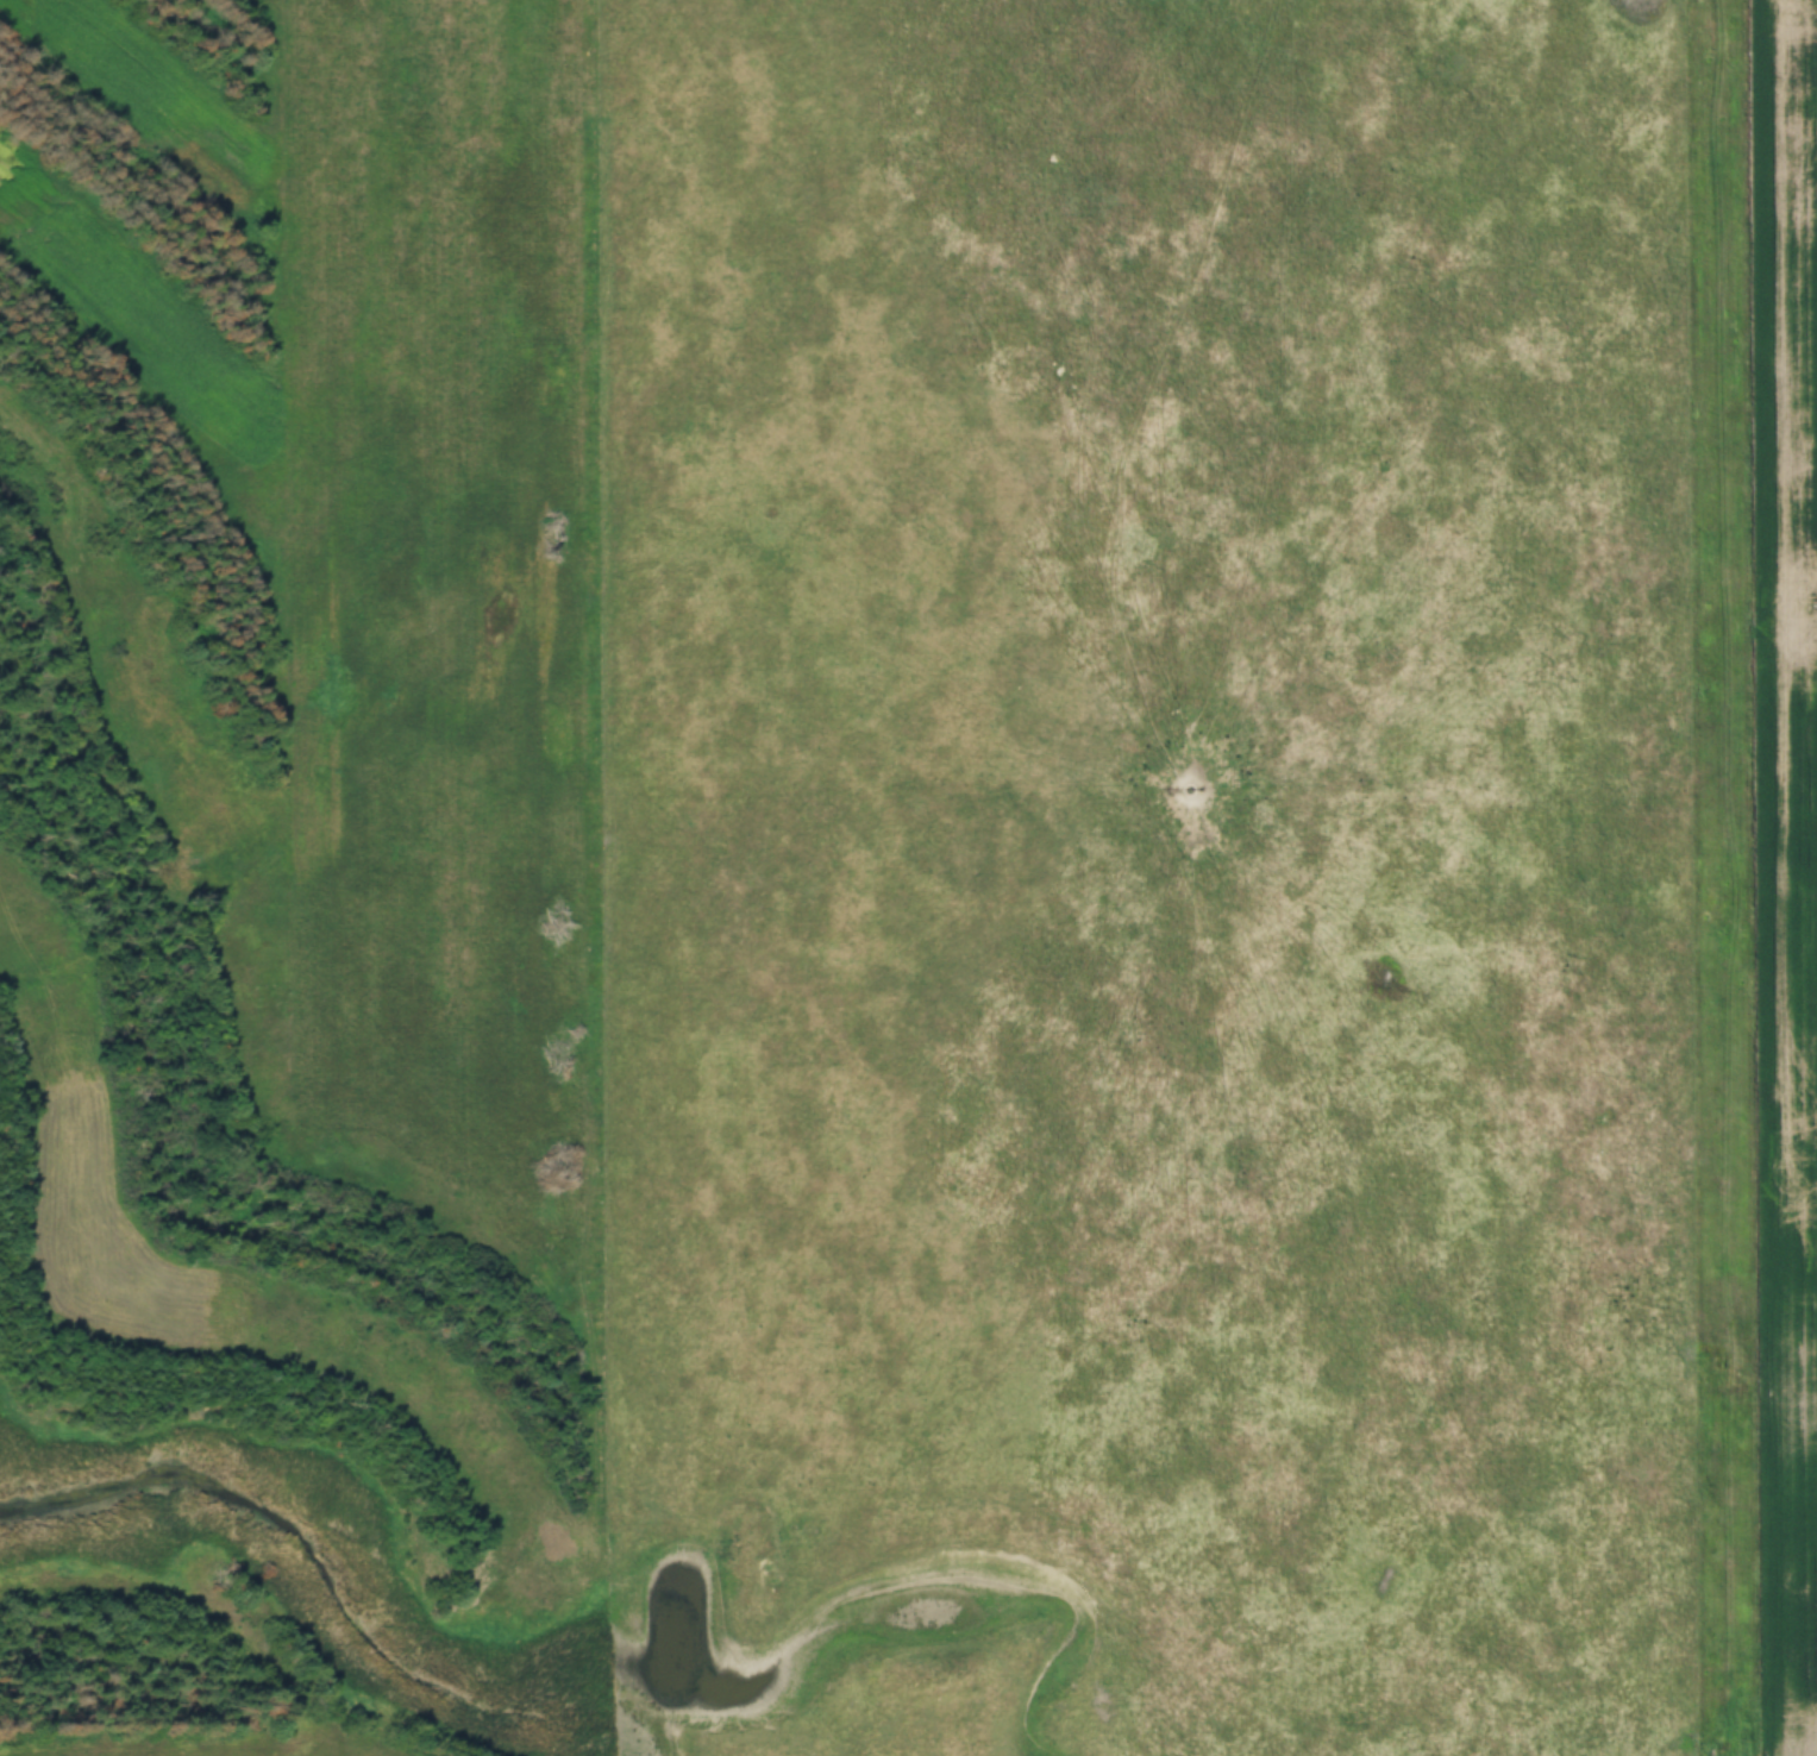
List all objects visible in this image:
road: (1725, 878)

